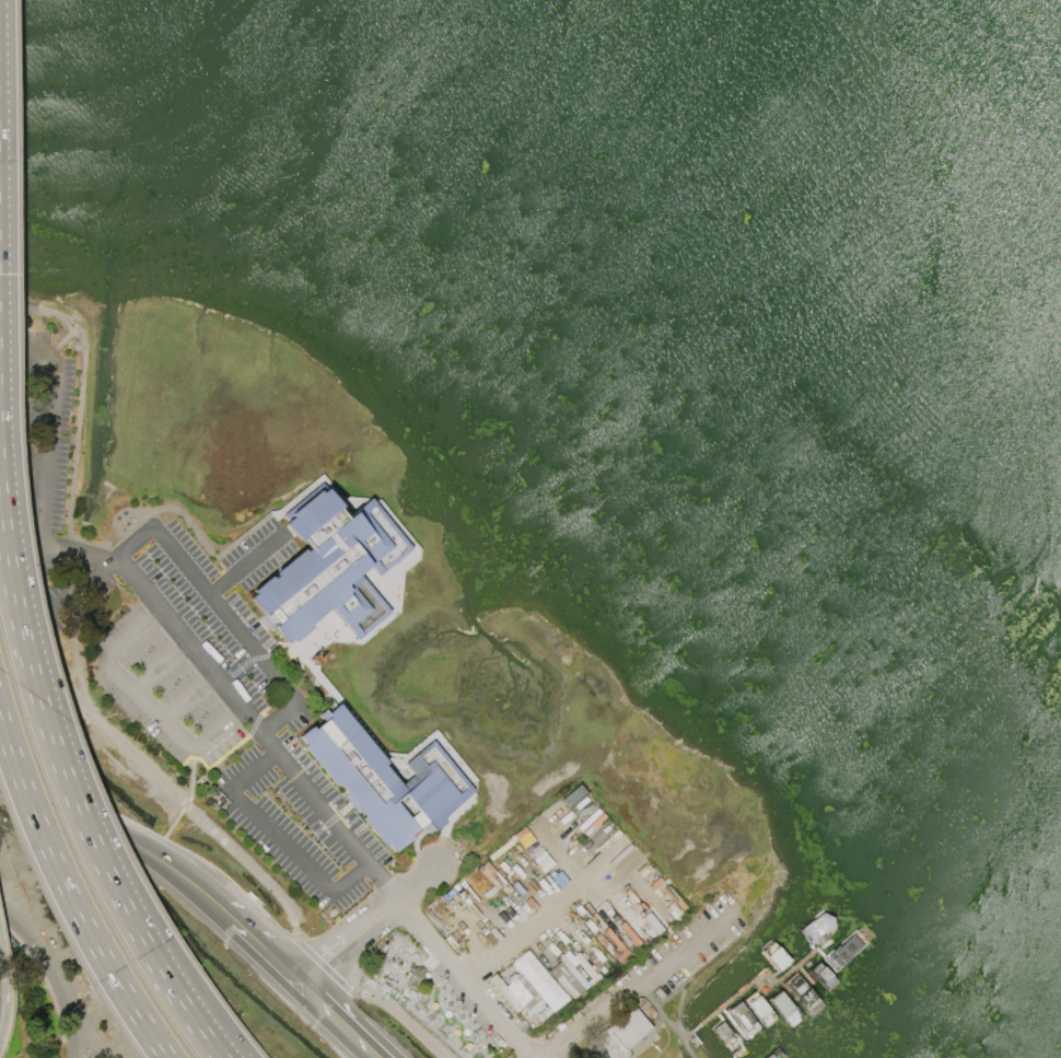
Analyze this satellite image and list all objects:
road: (38, 493)
road: (246, 565)
building: (330, 575)
road: (226, 615)
parking lot: (197, 662)
parking lot: (114, 666)
road: (161, 667)
road: (118, 676)
road: (187, 696)
road: (258, 728)
road: (217, 733)
road: (155, 776)
building: (387, 784)
road: (74, 800)
road: (186, 806)
road: (281, 836)
road: (162, 861)
road: (418, 883)
road: (69, 894)
road: (18, 921)
road: (348, 940)
road: (323, 965)
building: (418, 976)
road: (468, 978)
road: (175, 980)
building: (540, 980)
building: (567, 980)
road: (643, 984)
road: (5, 989)
building: (505, 993)
road: (61, 996)
pier: (772, 999)
building: (758, 1007)
road: (678, 1009)
road: (400, 1018)
building: (742, 1019)
road: (338, 1020)
road: (1, 1032)
road: (1, 1033)
building: (621, 1034)

